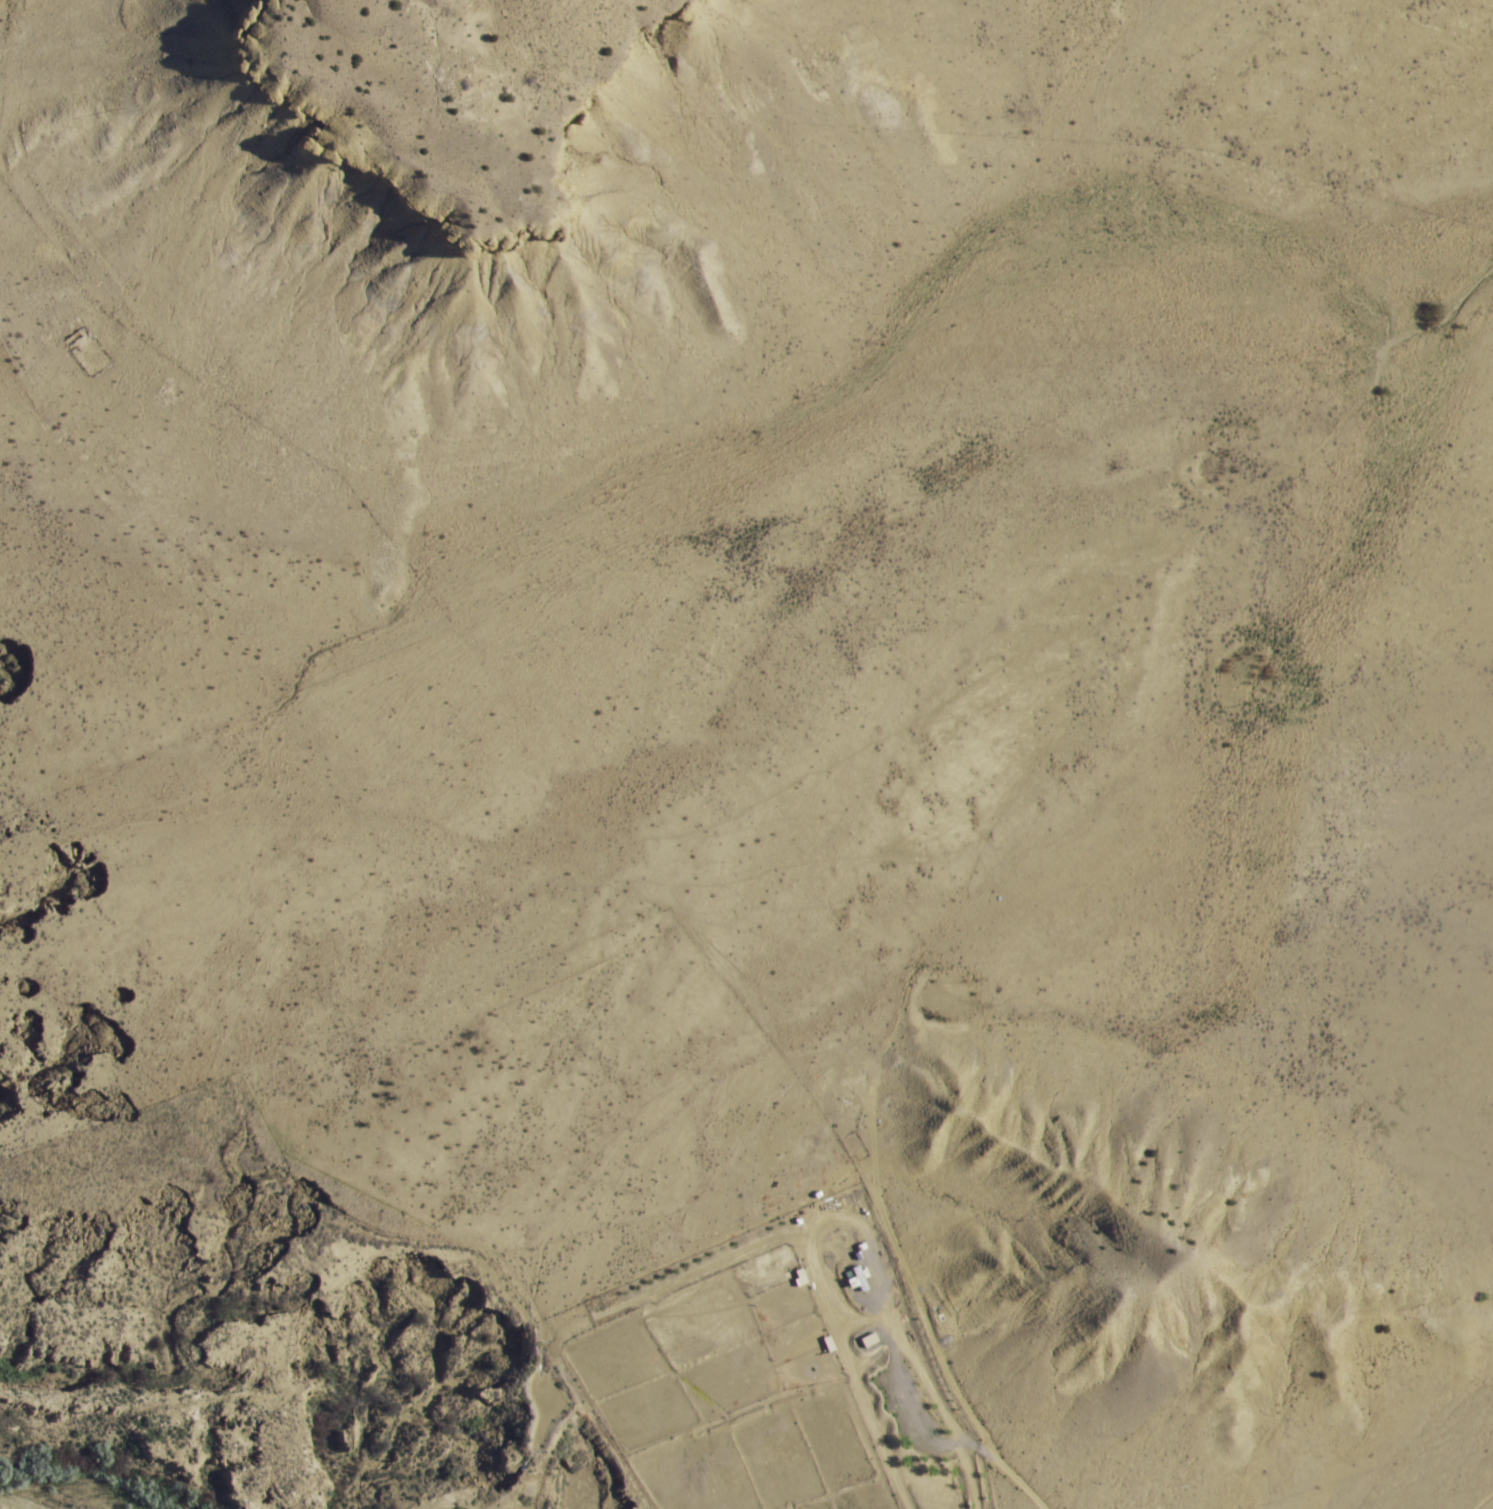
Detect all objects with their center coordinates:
building: (855, 1277)
road: (1487, 1504)

